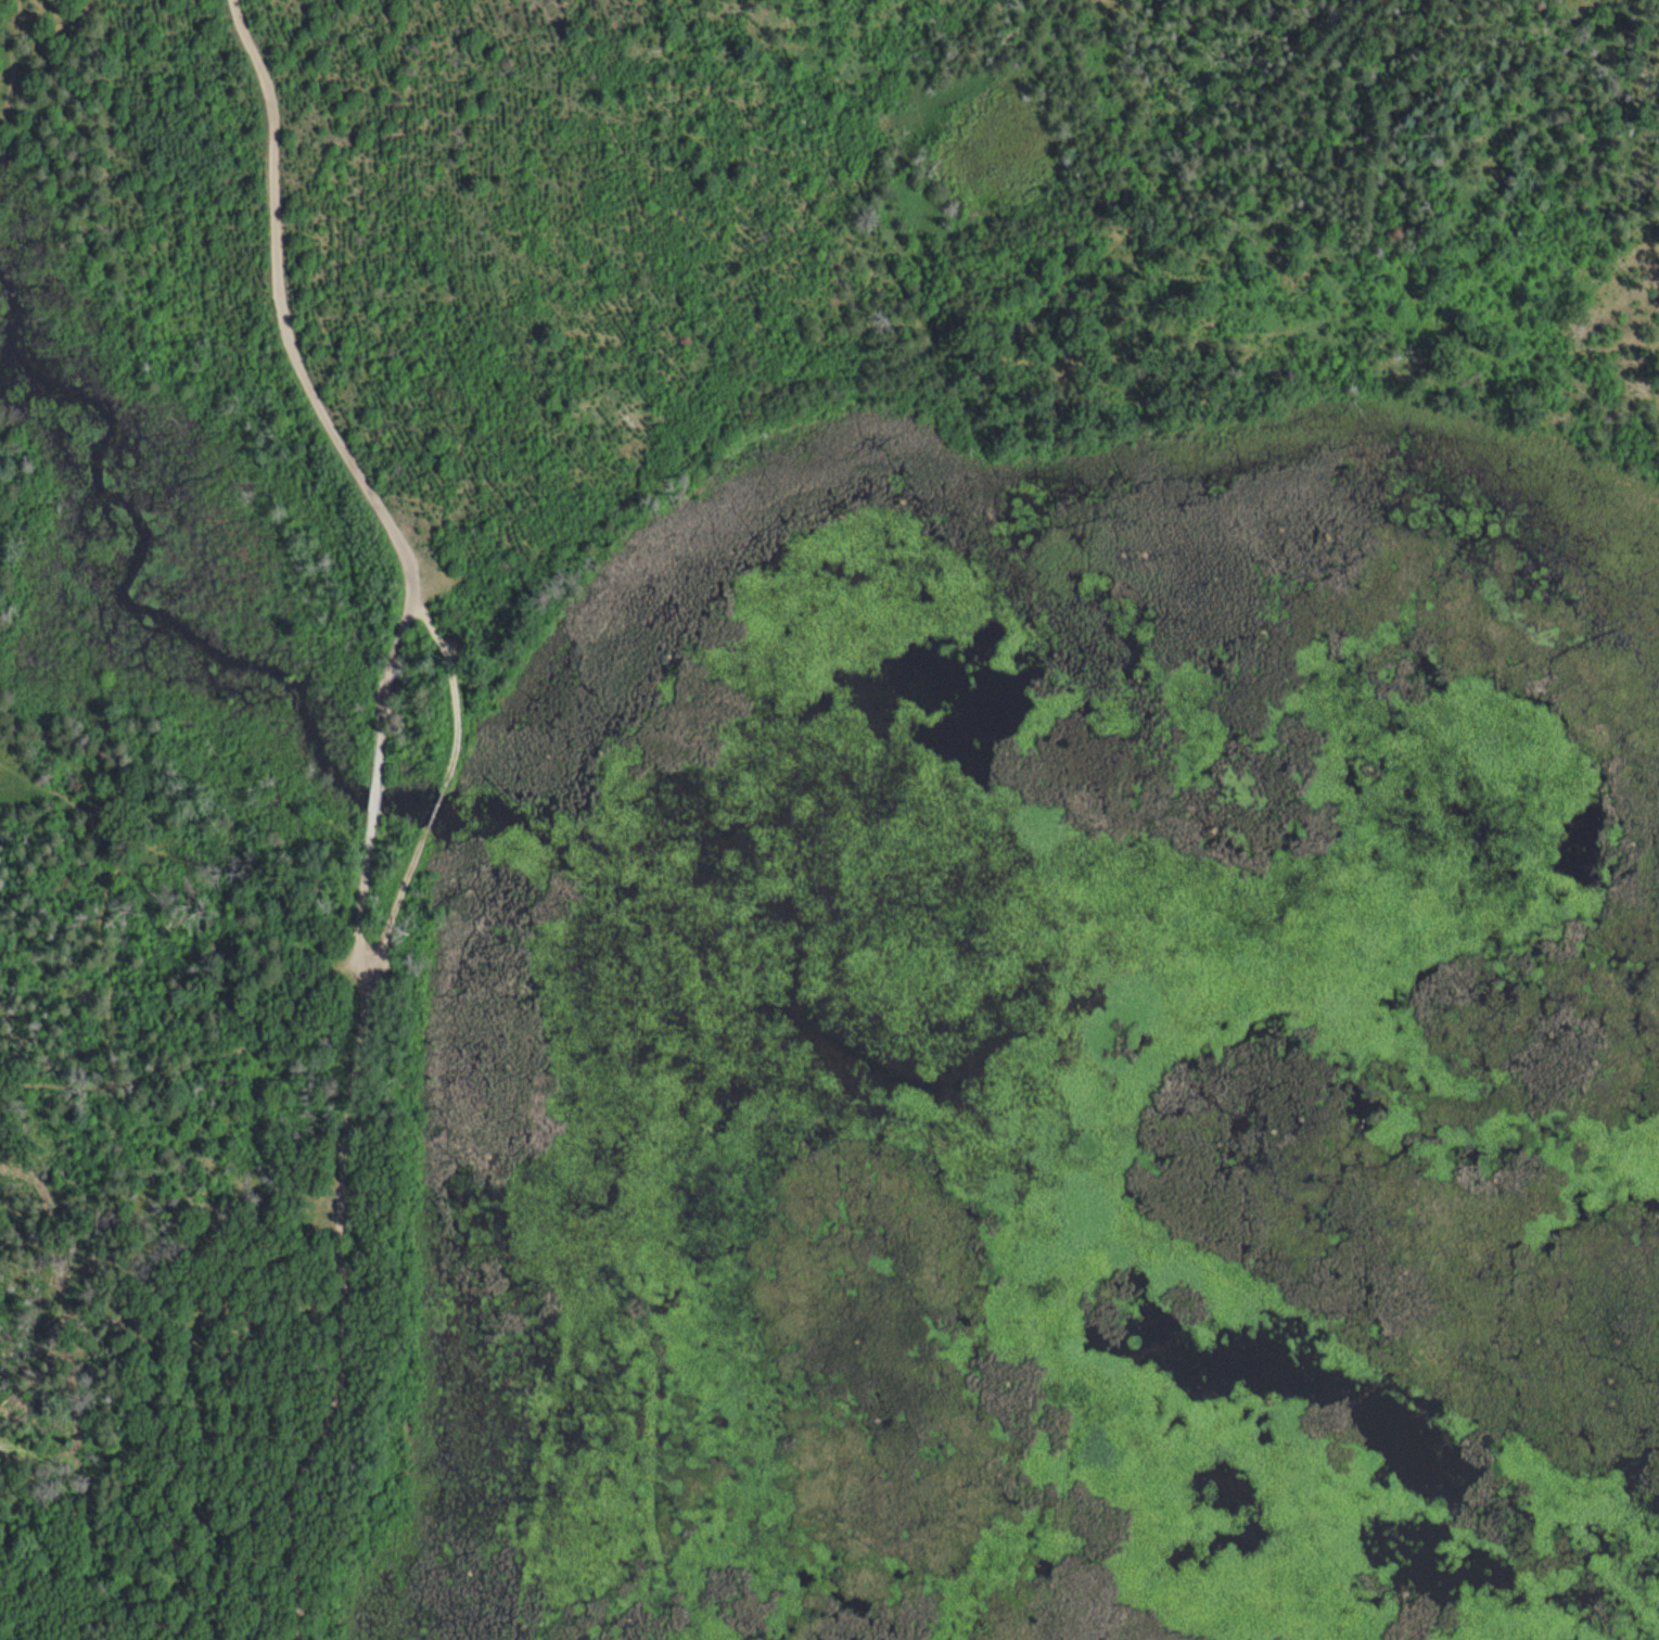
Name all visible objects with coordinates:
road: (1304, 82)
road: (352, 481)
road: (449, 631)
road: (199, 1077)
road: (342, 1304)

